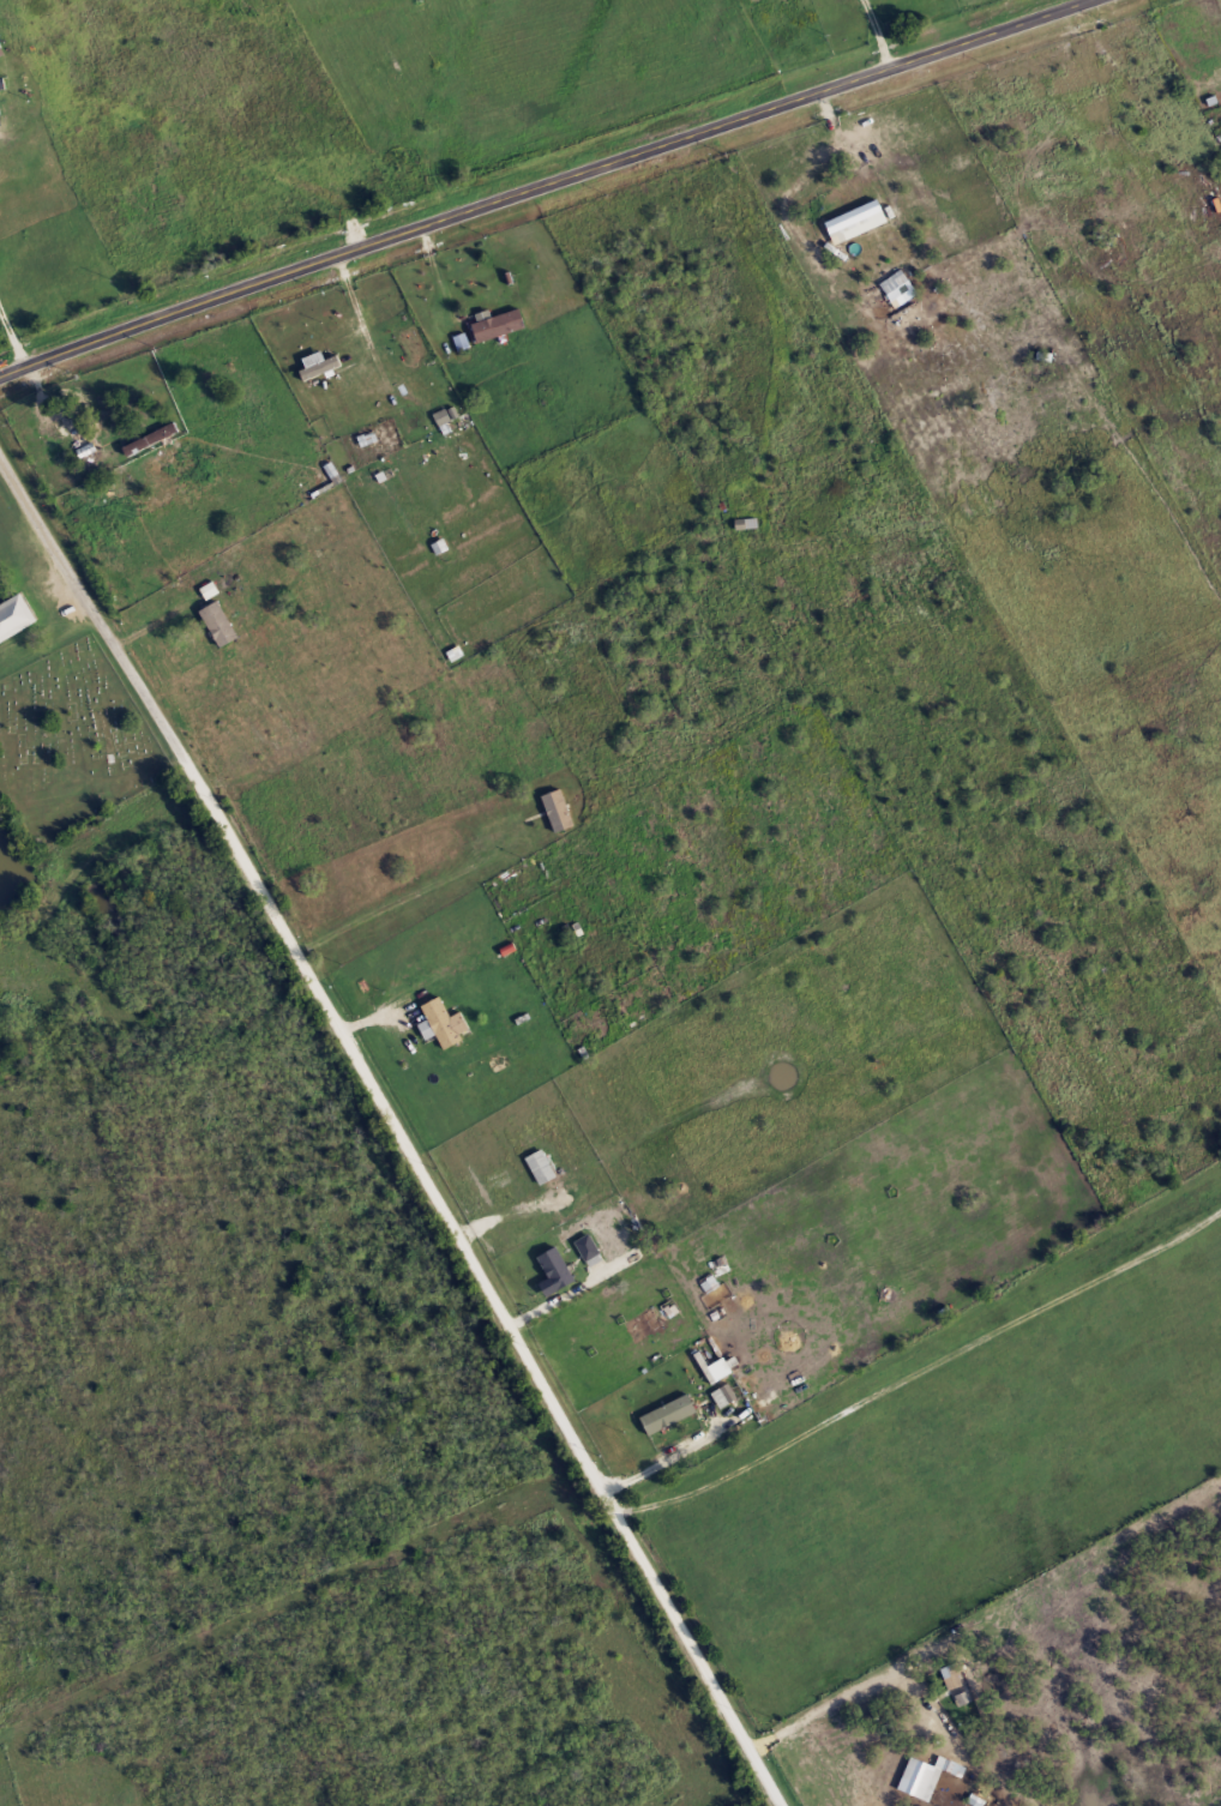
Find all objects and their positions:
road: (877, 29)
building: (2, 84)
road: (525, 182)
building: (858, 222)
building: (900, 289)
building: (494, 326)
road: (13, 333)
building: (297, 342)
building: (320, 366)
building: (152, 440)
building: (13, 614)
building: (215, 624)
park: (73, 740)
building: (554, 811)
road: (89, 851)
road: (313, 977)
building: (438, 1023)
building: (542, 1168)
building: (584, 1248)
building: (551, 1265)
road: (922, 1367)
building: (715, 1369)
building: (726, 1396)
building: (663, 1414)
road: (699, 1655)
building: (949, 1669)
building: (928, 1776)

